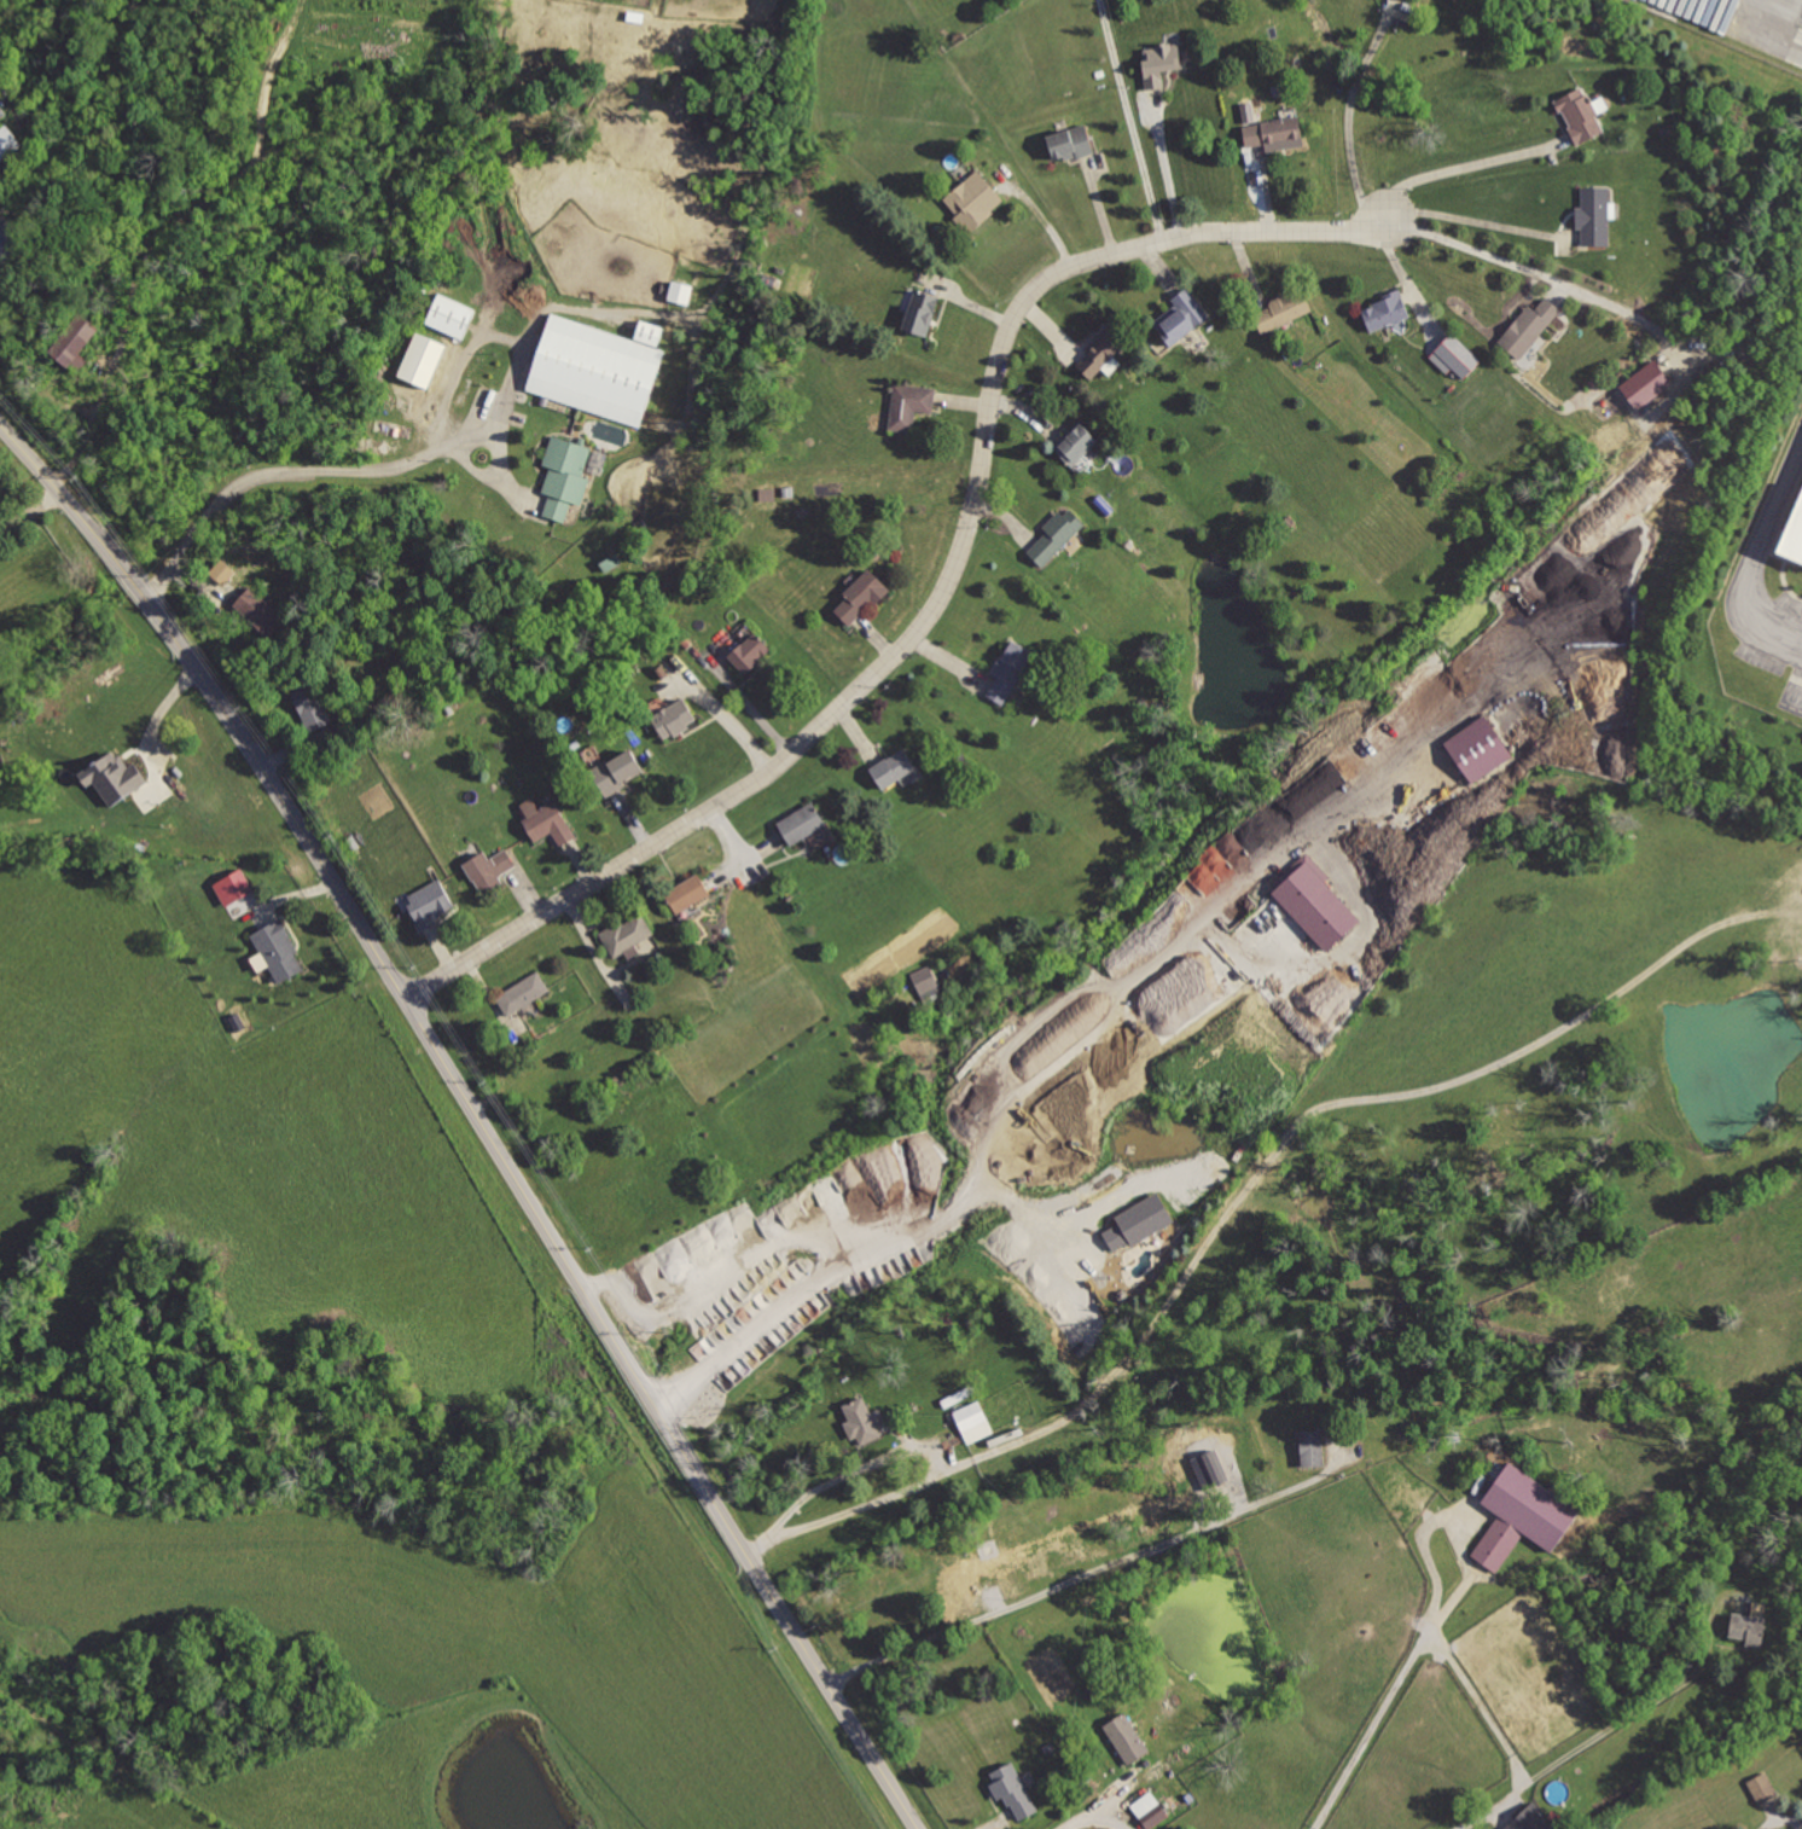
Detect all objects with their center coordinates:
building: (1159, 64)
road: (1348, 111)
building: (1581, 115)
road: (1130, 120)
building: (1274, 132)
building: (7, 141)
building: (1073, 144)
road: (1463, 168)
building: (973, 203)
building: (1595, 216)
road: (1466, 221)
building: (10, 238)
road: (1533, 269)
building: (680, 291)
building: (1387, 309)
building: (1284, 310)
building: (922, 312)
building: (450, 314)
building: (1181, 317)
building: (1529, 329)
building: (649, 331)
building: (75, 341)
building: (1100, 355)
building: (1454, 356)
building: (422, 359)
building: (595, 368)
building: (1646, 383)
building: (912, 403)
road: (91, 425)
building: (1079, 443)
road: (287, 470)
building: (564, 475)
road: (30, 511)
building: (1060, 538)
building: (1792, 541)
road: (1754, 559)
building: (222, 570)
building: (862, 597)
road: (943, 598)
building: (260, 610)
building: (748, 654)
building: (1011, 670)
building: (310, 706)
building: (674, 718)
building: (1478, 748)
building: (897, 768)
building: (616, 771)
building: (114, 776)
building: (548, 821)
building: (803, 823)
building: (489, 870)
building: (233, 886)
building: (691, 893)
building: (1316, 902)
building: (426, 904)
building: (627, 934)
building: (279, 950)
road: (599, 951)
building: (926, 982)
building: (524, 993)
road: (989, 1105)
road: (1319, 1105)
road: (475, 1114)
building: (1138, 1221)
road: (1042, 1239)
road: (709, 1277)
building: (862, 1419)
building: (972, 1421)
building: (1310, 1447)
building: (1209, 1467)
road: (861, 1505)
building: (1522, 1515)
road: (1135, 1558)
building: (1750, 1624)
road: (1443, 1650)
road: (1611, 1726)
building: (1126, 1737)
building: (1761, 1787)
building: (1012, 1789)
building: (1150, 1808)
road: (1095, 1816)
building: (1534, 1818)
road: (1775, 1821)

